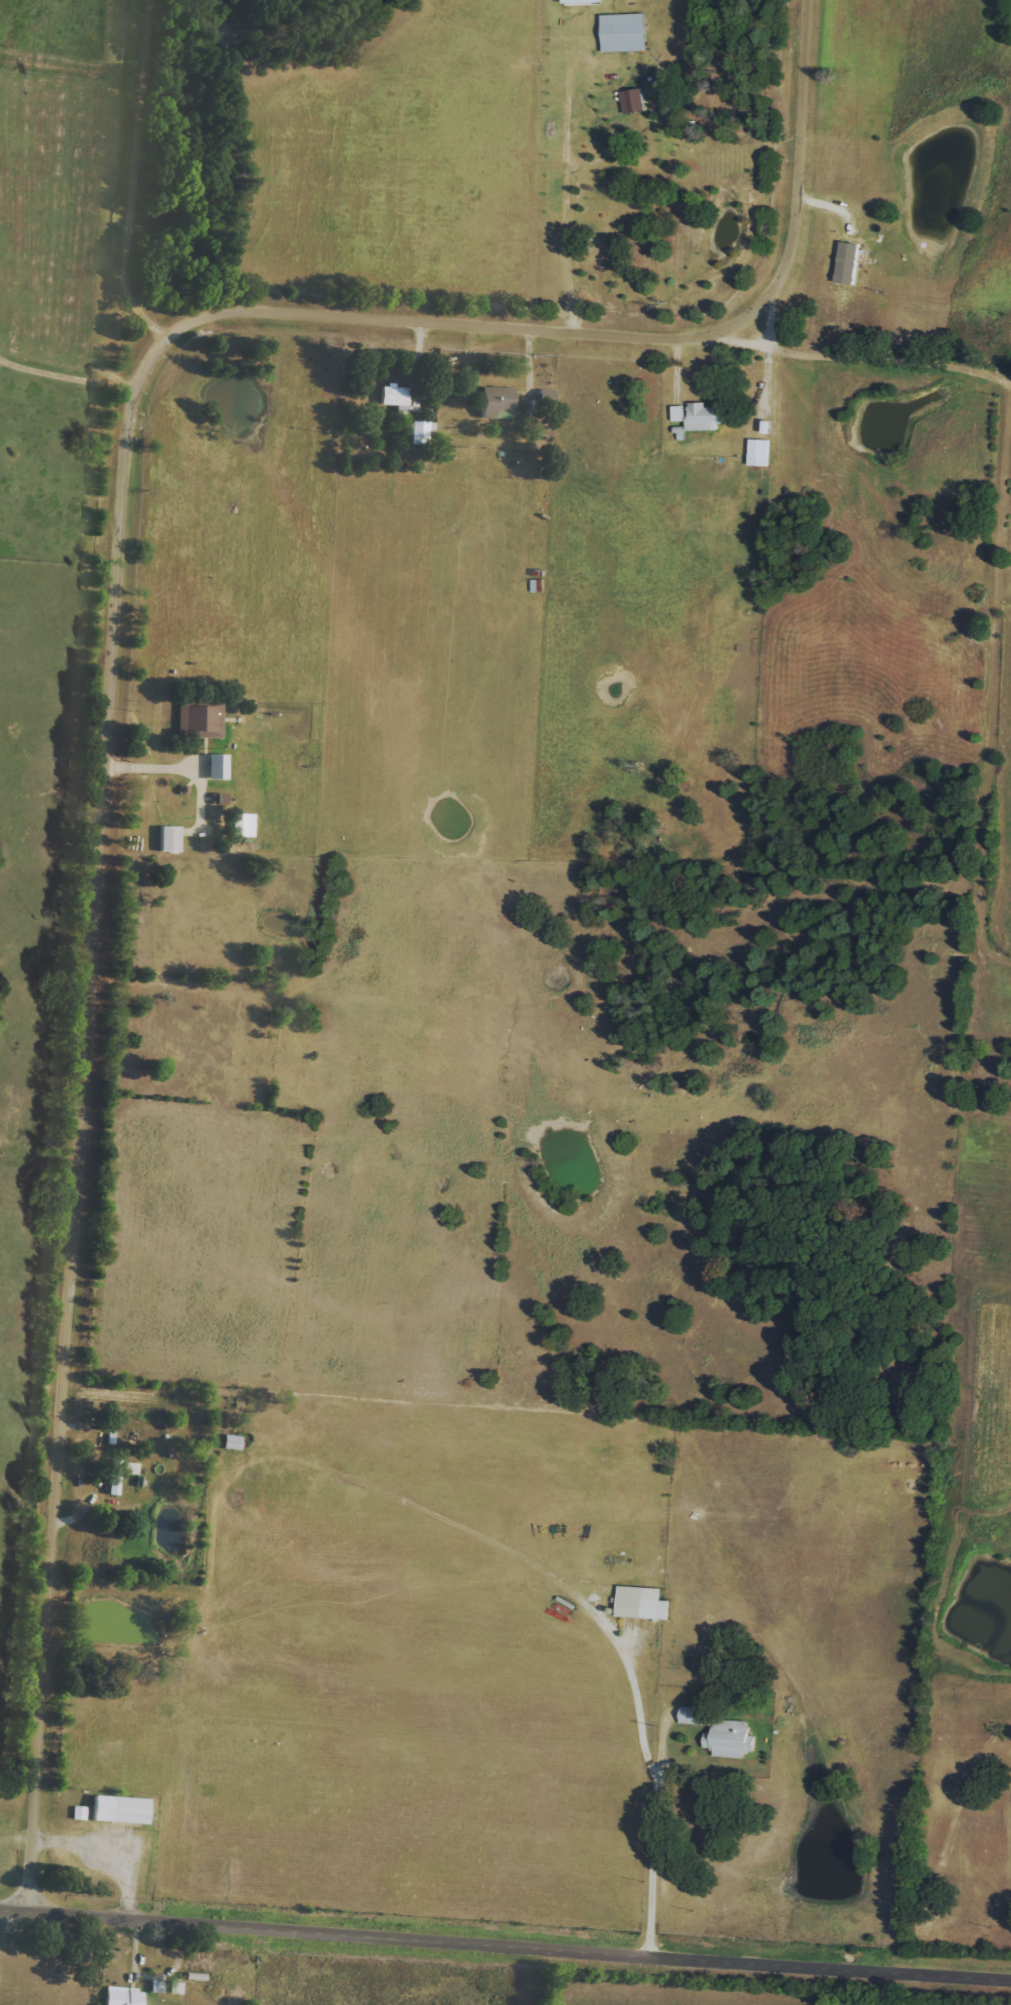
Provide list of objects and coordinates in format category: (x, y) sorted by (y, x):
building: (581, 1)
building: (623, 32)
building: (632, 101)
road: (146, 174)
building: (846, 262)
road: (2, 362)
road: (68, 378)
road: (1006, 381)
building: (392, 396)
building: (495, 403)
building: (678, 414)
building: (703, 417)
building: (417, 433)
building: (758, 452)
road: (998, 554)
road: (114, 645)
building: (197, 721)
building: (215, 767)
road: (151, 774)
building: (217, 799)
building: (167, 840)
building: (239, 844)
building: (230, 1443)
building: (128, 1469)
building: (112, 1485)
building: (642, 1603)
road: (642, 1701)
building: (691, 1715)
building: (730, 1739)
building: (118, 1810)
building: (77, 1813)
road: (660, 1840)
road: (505, 1947)
road: (150, 1977)
building: (155, 1987)
building: (173, 1988)
building: (121, 1996)

